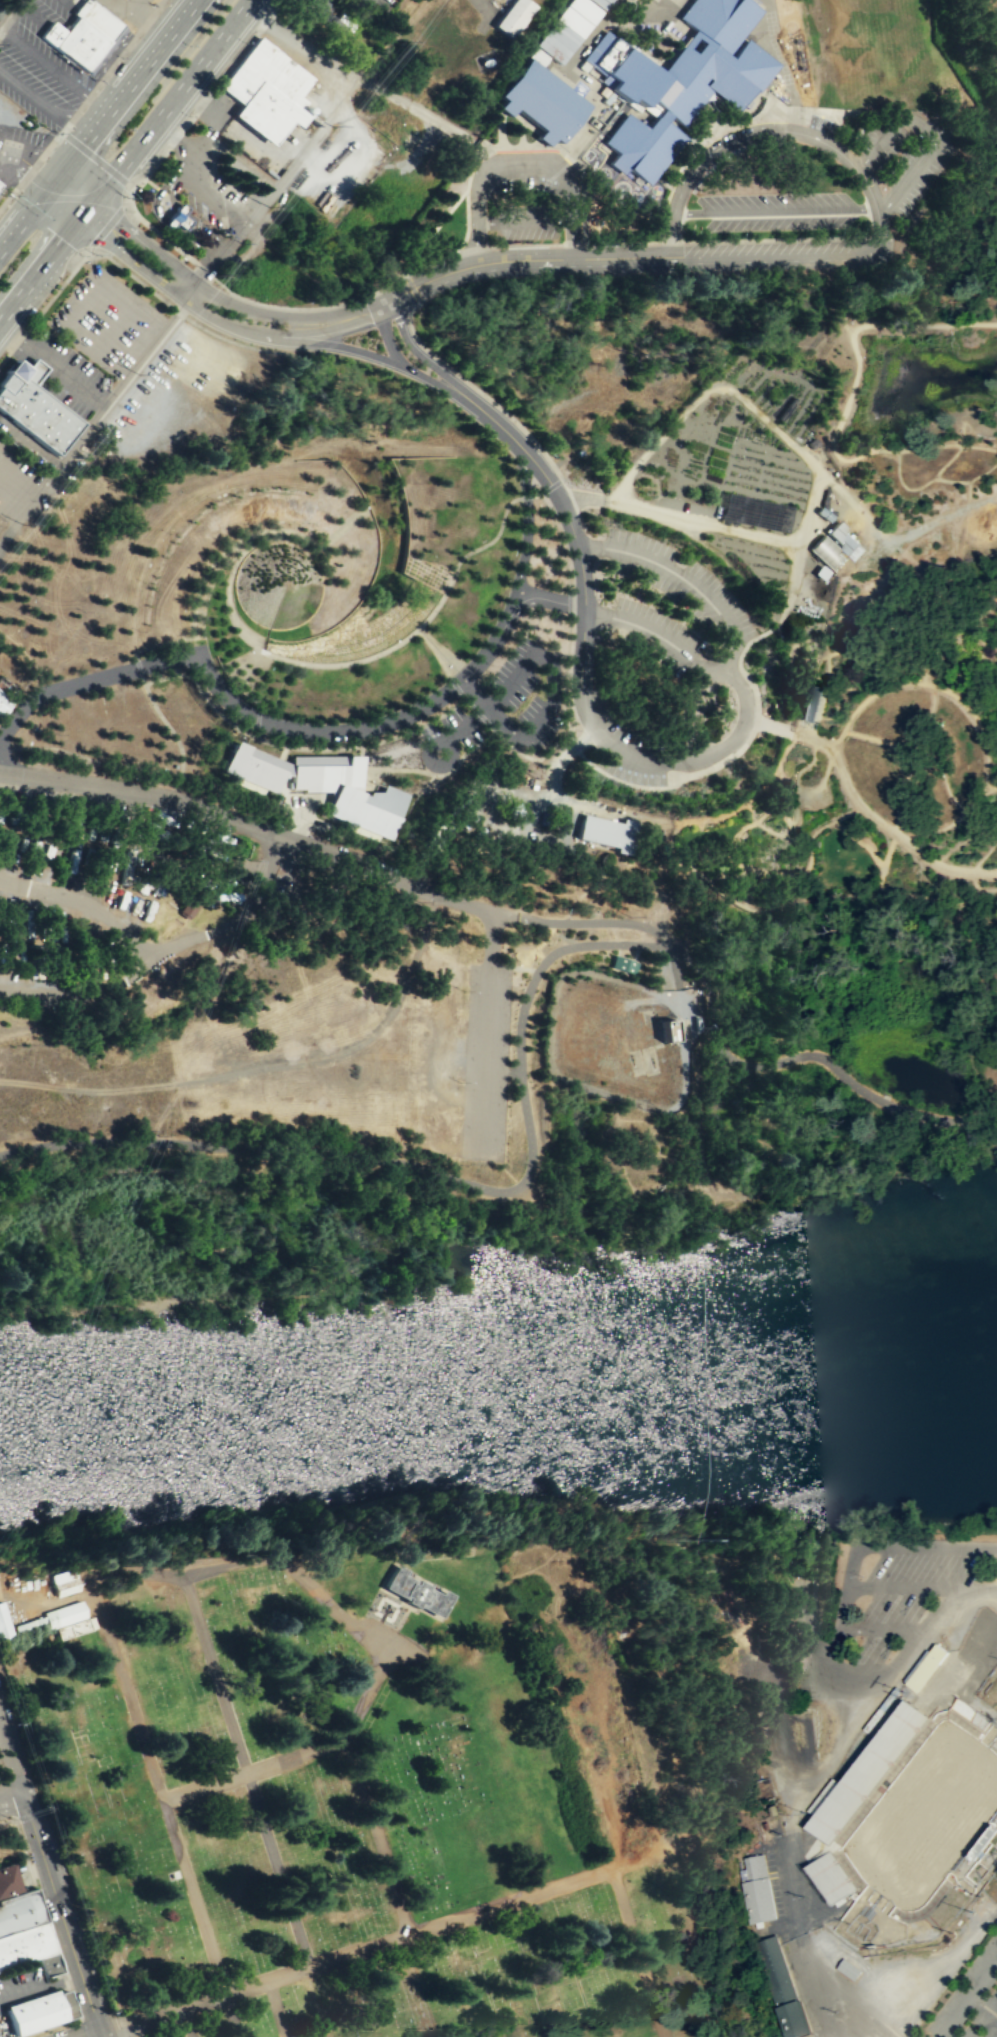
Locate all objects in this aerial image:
building: (312, 4)
building: (1, 7)
road: (487, 13)
building: (513, 16)
building: (568, 28)
building: (79, 32)
street lamp: (244, 41)
street lamp: (121, 56)
building: (537, 56)
road: (53, 70)
building: (676, 80)
building: (264, 89)
building: (539, 99)
road: (43, 104)
street lamp: (188, 114)
road: (95, 125)
parking lot: (24, 134)
road: (928, 134)
road: (825, 146)
road: (518, 159)
road: (26, 160)
road: (127, 161)
road: (992, 169)
street lamp: (126, 196)
road: (675, 207)
building: (177, 218)
street lamp: (95, 253)
road: (768, 257)
road: (492, 262)
road: (210, 267)
road: (180, 271)
street lamp: (54, 286)
street lamp: (257, 294)
road: (173, 295)
road: (922, 325)
road: (411, 348)
road: (380, 356)
road: (54, 364)
building: (31, 411)
road: (840, 445)
road: (979, 446)
road: (947, 480)
road: (813, 483)
road: (901, 486)
street lamp: (531, 489)
road: (525, 495)
street lamp: (514, 503)
parking lot: (699, 508)
building: (752, 512)
road: (857, 513)
road: (946, 514)
road: (566, 516)
road: (525, 526)
street lamp: (500, 536)
road: (557, 537)
street lamp: (553, 539)
building: (844, 539)
road: (233, 540)
building: (825, 552)
road: (873, 553)
street lamp: (469, 555)
park: (576, 574)
street lamp: (563, 576)
road: (792, 576)
road: (683, 578)
street lamp: (455, 580)
parking lot: (678, 581)
road: (807, 581)
fountain: (277, 584)
parking lot: (812, 590)
road: (568, 601)
road: (357, 607)
street lamp: (437, 611)
road: (963, 624)
road: (341, 626)
road: (418, 626)
road: (864, 628)
parking lot: (653, 632)
road: (321, 634)
street lamp: (410, 639)
road: (266, 643)
road: (157, 644)
street lamp: (248, 645)
road: (839, 647)
road: (789, 649)
road: (439, 652)
street lamp: (563, 654)
street lamp: (380, 658)
street lamp: (275, 659)
fountain: (914, 661)
road: (738, 663)
road: (702, 666)
road: (827, 666)
road: (138, 667)
street lamp: (342, 667)
street lamp: (306, 668)
road: (837, 679)
street lamp: (562, 685)
street lamp: (563, 699)
building: (3, 701)
road: (246, 701)
building: (809, 701)
road: (549, 702)
street lamp: (159, 705)
road: (211, 706)
parking lot: (500, 706)
road: (473, 708)
road: (970, 713)
road: (755, 716)
road: (927, 717)
road: (256, 721)
road: (469, 724)
road: (754, 724)
road: (765, 724)
road: (293, 727)
road: (415, 727)
street lamp: (118, 730)
street lamp: (58, 733)
road: (872, 738)
road: (810, 739)
road: (427, 742)
road: (572, 744)
road: (511, 746)
road: (918, 746)
road: (991, 746)
road: (315, 747)
road: (623, 752)
street lamp: (28, 758)
street lamp: (187, 758)
road: (147, 768)
street lamp: (130, 776)
street lamp: (443, 779)
road: (670, 782)
road: (995, 782)
building: (323, 785)
fountain: (378, 787)
road: (946, 787)
road: (233, 789)
road: (988, 789)
road: (801, 791)
road: (552, 797)
street lamp: (223, 801)
road: (900, 802)
road: (536, 805)
road: (783, 811)
road: (763, 813)
road: (794, 814)
road: (300, 818)
road: (570, 818)
road: (973, 820)
road: (749, 823)
road: (249, 824)
road: (760, 825)
road: (982, 829)
building: (607, 830)
street lamp: (319, 832)
road: (898, 834)
road: (957, 844)
road: (392, 846)
road: (983, 855)
road: (885, 858)
road: (879, 861)
road: (687, 862)
building: (127, 864)
road: (776, 872)
road: (718, 890)
road: (940, 899)
road: (583, 922)
building: (26, 924)
road: (556, 926)
road: (531, 945)
road: (157, 947)
road: (617, 948)
road: (635, 951)
road: (624, 956)
building: (622, 963)
road: (674, 968)
road: (80, 995)
road: (645, 999)
building: (665, 1030)
road: (486, 1032)
road: (519, 1057)
parking lot: (484, 1061)
road: (263, 1066)
road: (557, 1076)
power tower: (153, 1133)
road: (704, 1171)
river: (498, 1398)
road: (853, 1559)
building: (60, 1581)
road: (901, 1588)
building: (415, 1591)
parking lot: (903, 1597)
road: (326, 1602)
building: (59, 1621)
building: (3, 1626)
road: (881, 1628)
building: (925, 1668)
building: (965, 1708)
road: (832, 1755)
road: (10, 1757)
building: (861, 1777)
road: (156, 1782)
park: (357, 1791)
road: (10, 1794)
park: (925, 1815)
stadium: (878, 1846)
road: (594, 1872)
building: (833, 1877)
building: (7, 1878)
road: (393, 1884)
building: (755, 1889)
building: (20, 1909)
road: (290, 1910)
road: (63, 1913)
road: (55, 1940)
building: (25, 1943)
building: (51, 1962)
building: (847, 1967)
building: (781, 1988)
road: (969, 2000)
parking lot: (970, 2000)
building: (68, 2002)
road: (185, 2003)
road: (984, 2007)
road: (275, 2008)
building: (36, 2010)
road: (848, 2011)
road: (186, 2021)
road: (82, 2027)
road: (97, 2034)
road: (943, 2035)

